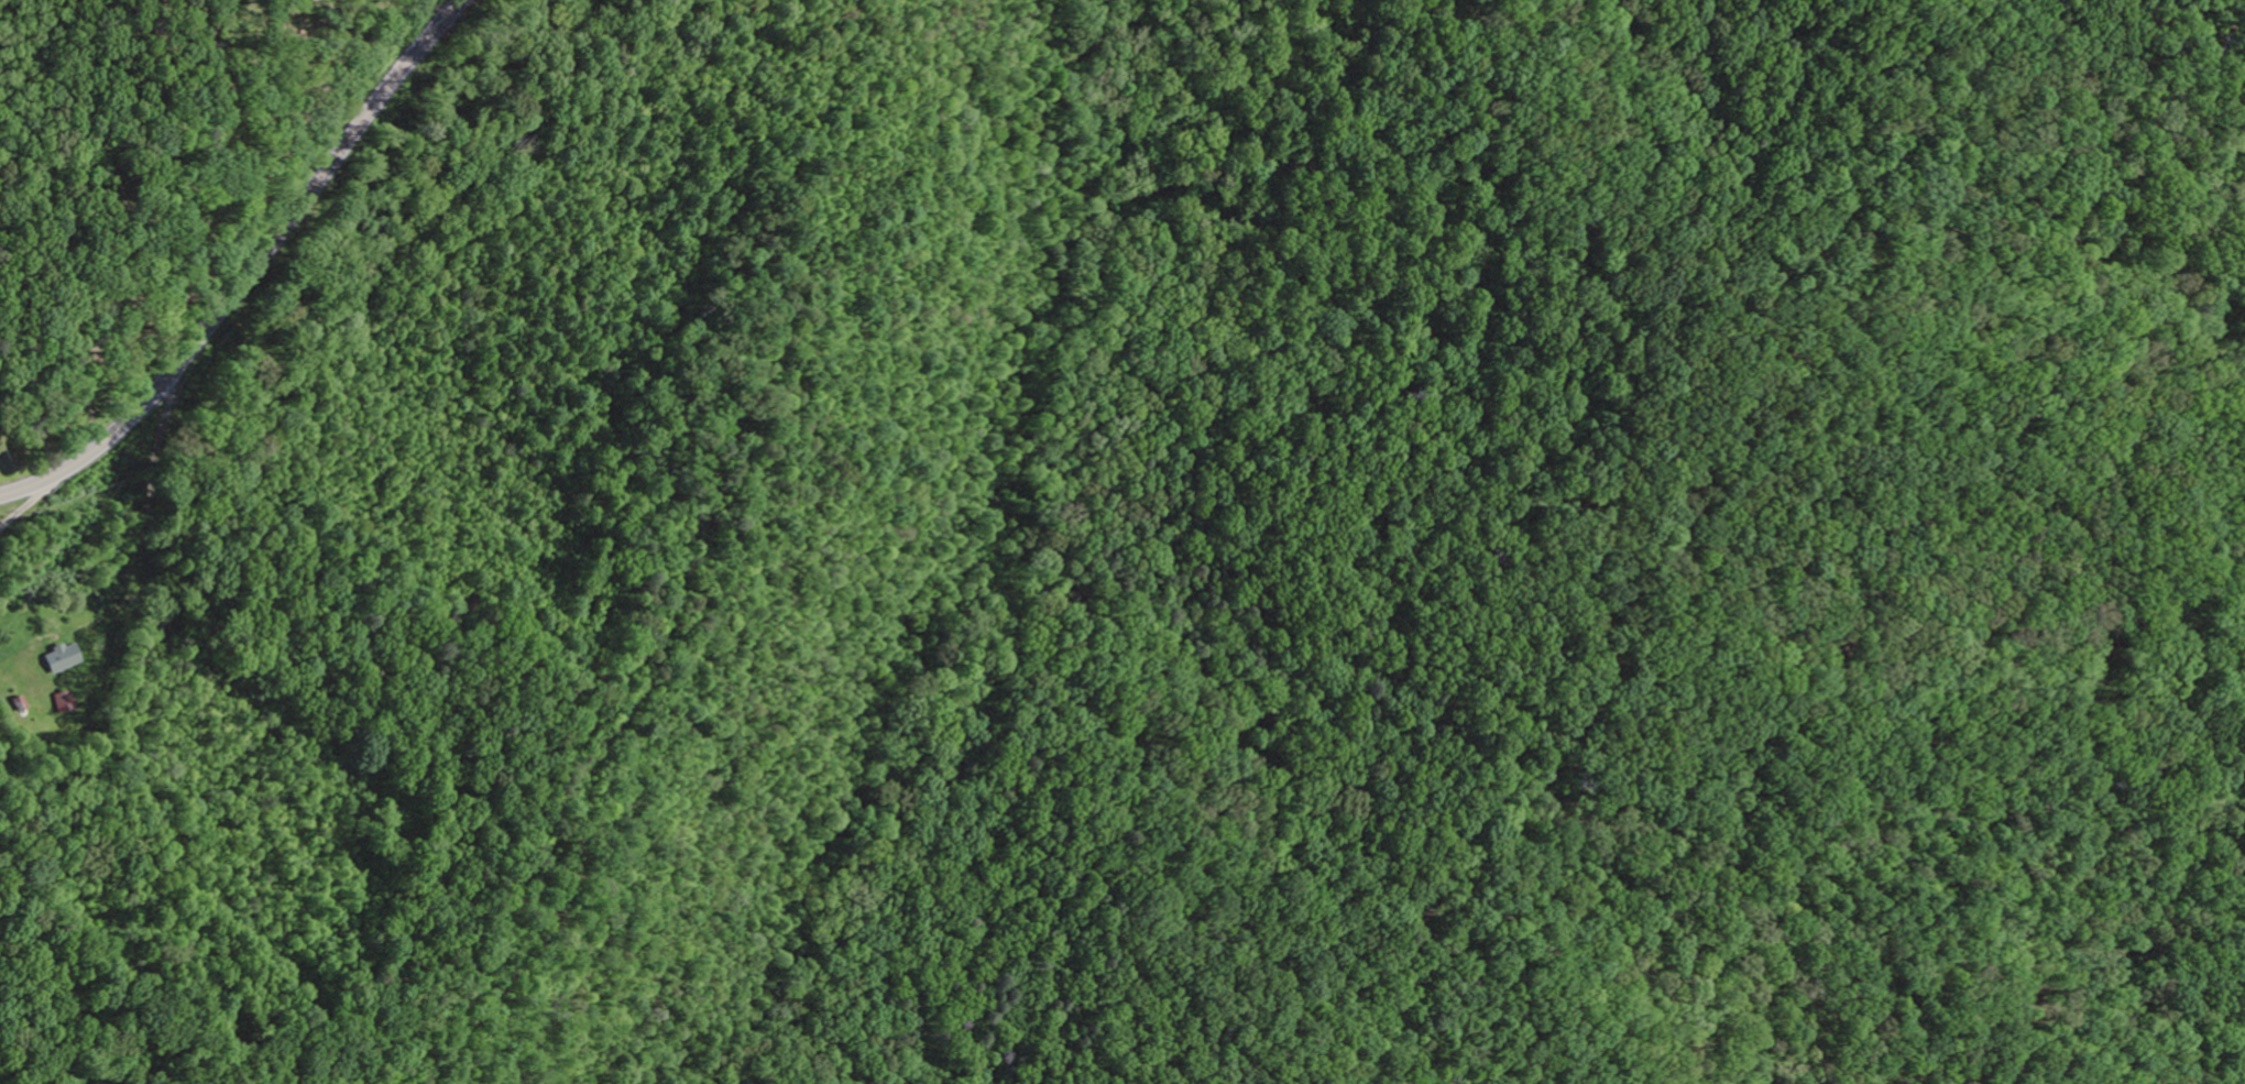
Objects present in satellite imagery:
road: (251, 271)
road: (1716, 484)
building: (64, 659)
building: (65, 703)
road: (2079, 1081)

